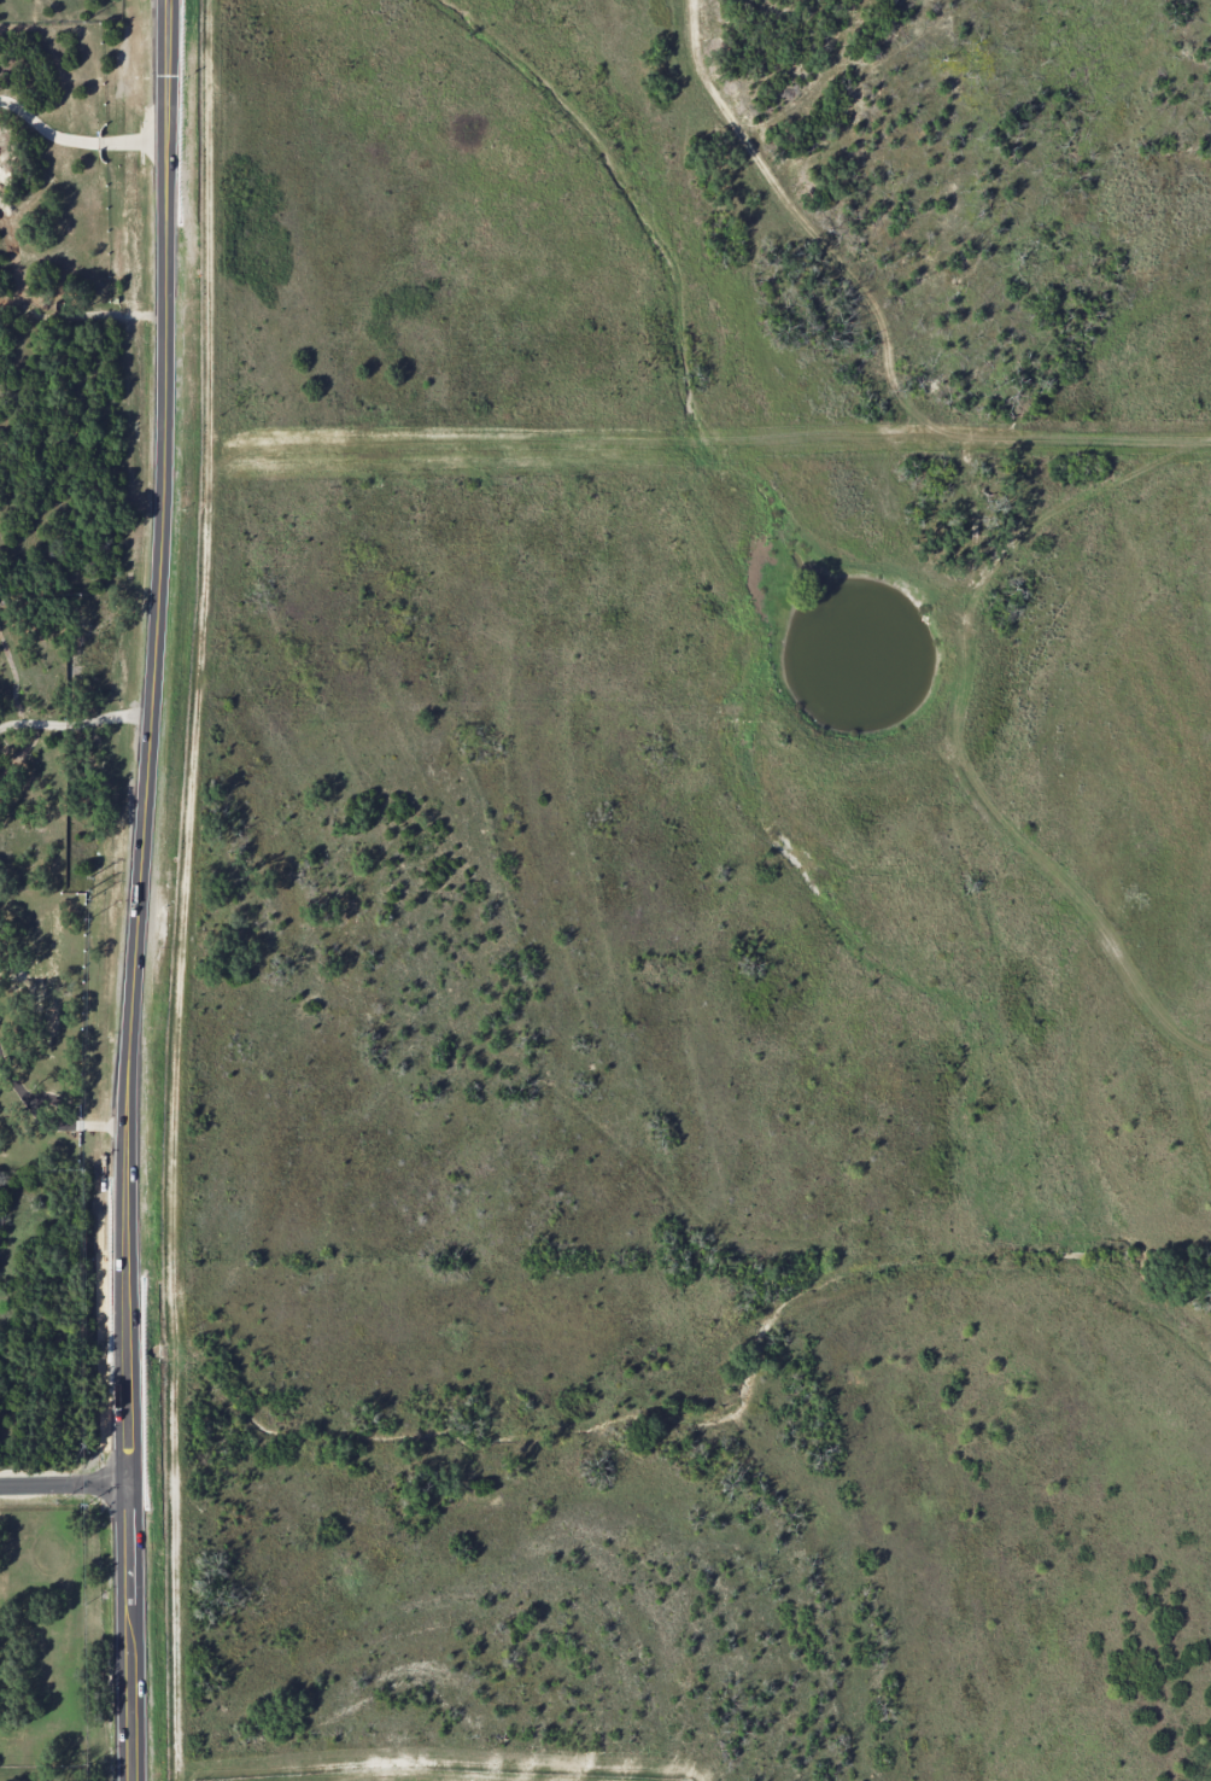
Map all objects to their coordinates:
road: (77, 140)
road: (75, 723)
road: (139, 889)
road: (64, 1484)

